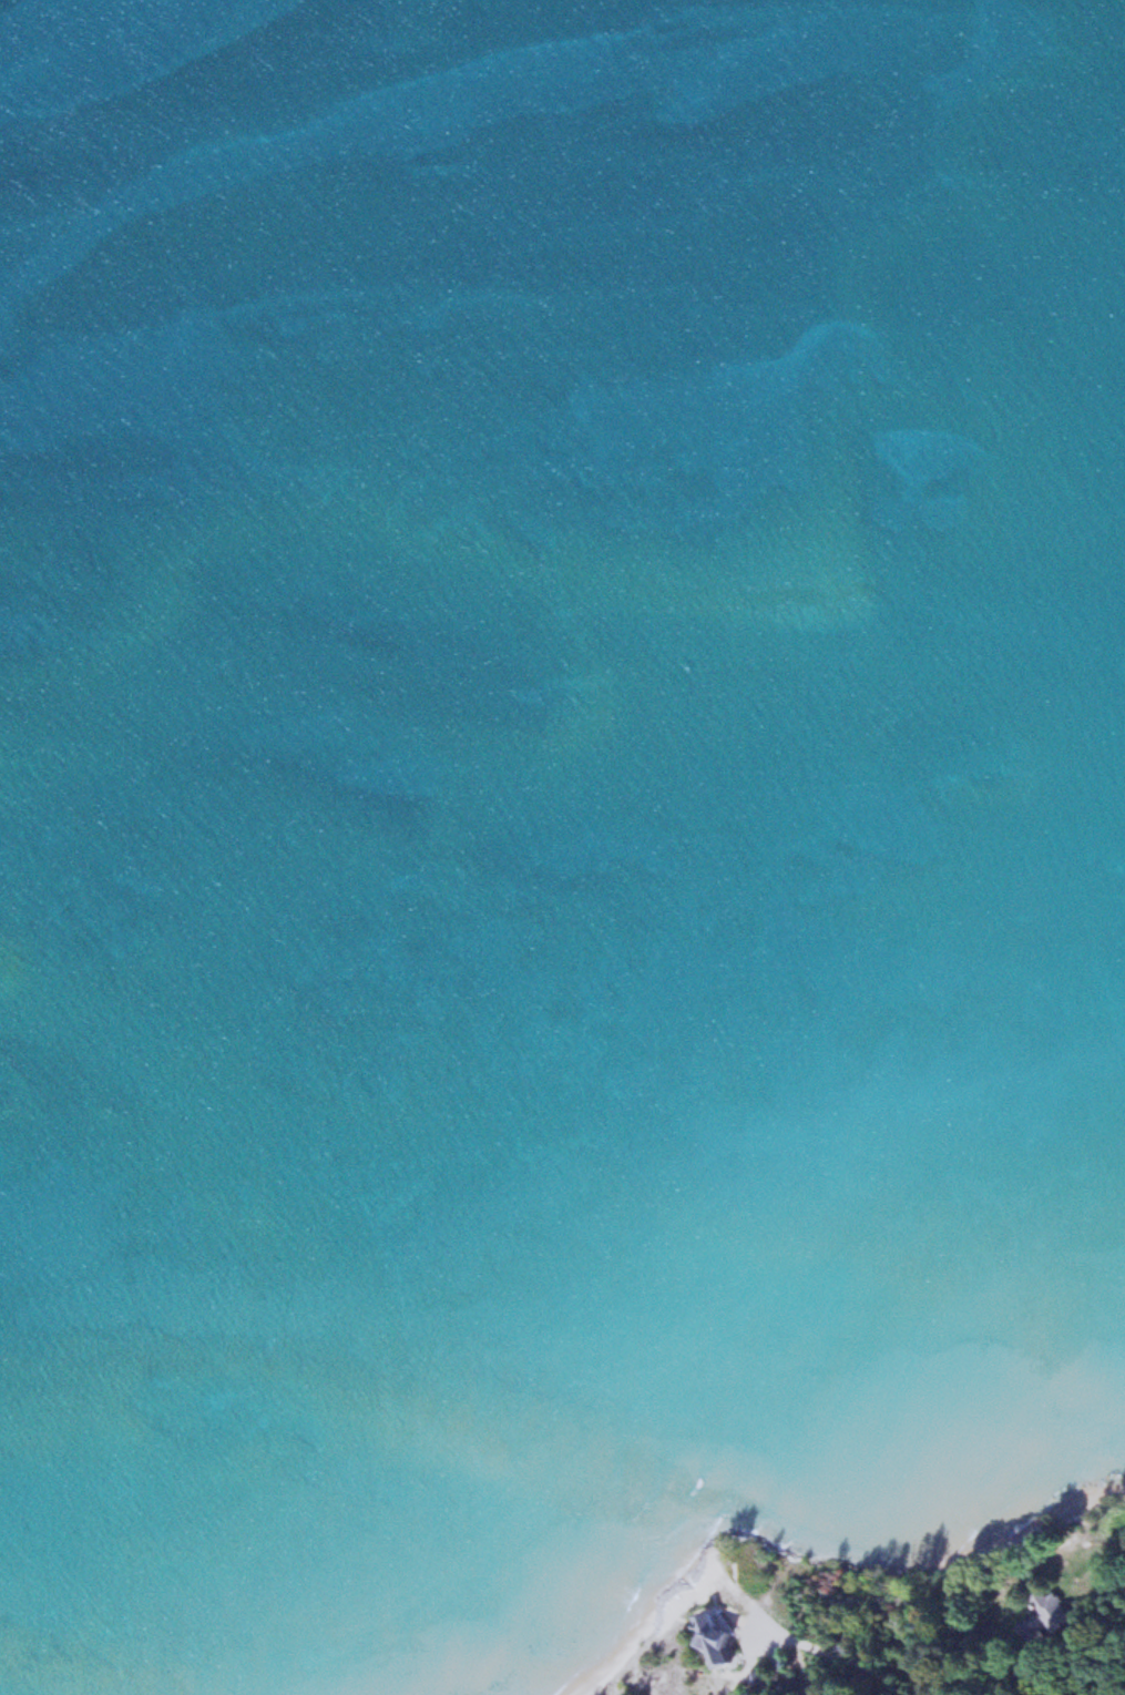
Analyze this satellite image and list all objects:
building: (1043, 1624)
building: (720, 1646)
road: (993, 1657)
road: (869, 1664)

